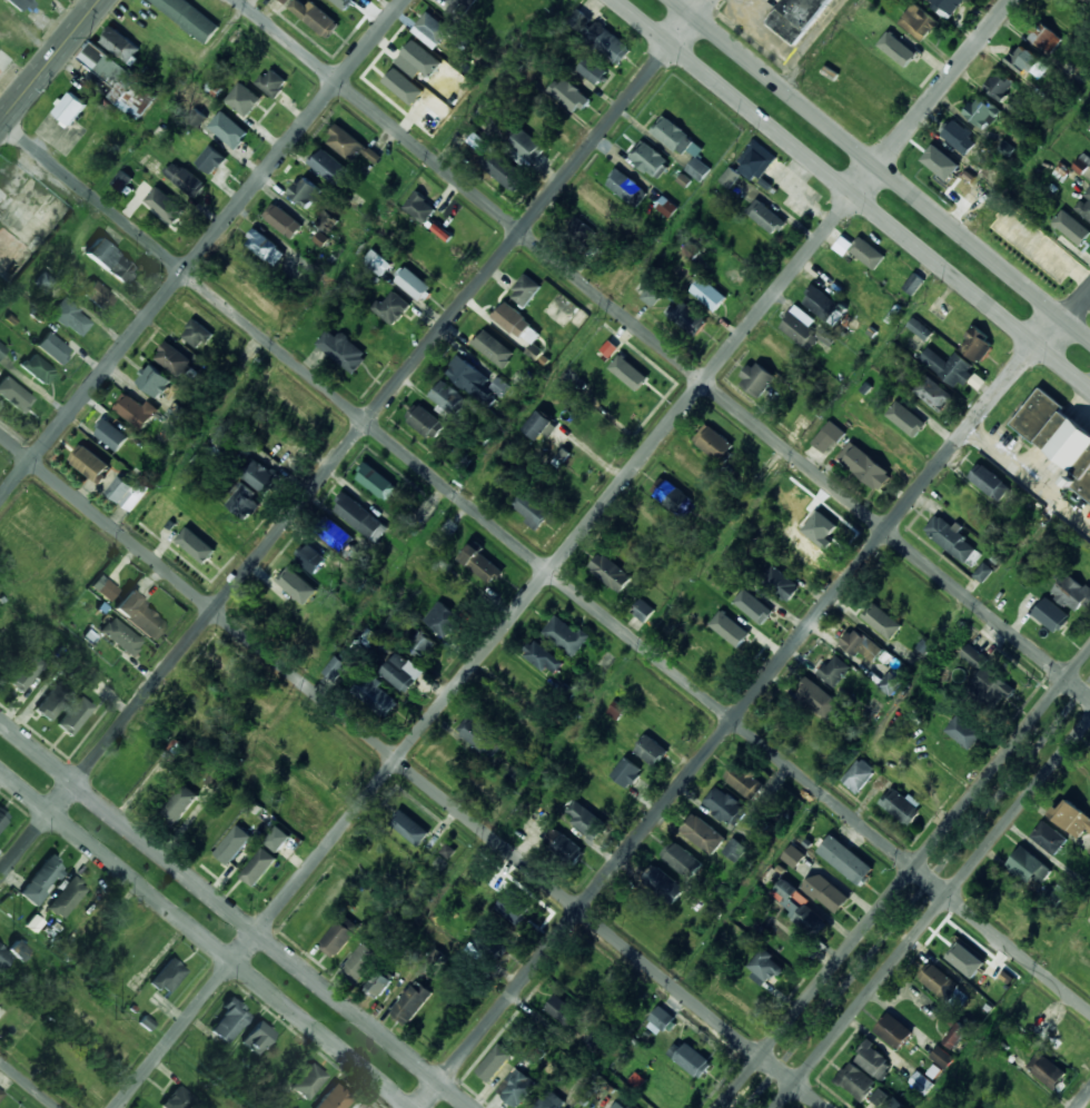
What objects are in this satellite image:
building: (1087, 0)
building: (285, 1)
building: (21, 4)
building: (462, 4)
building: (945, 4)
building: (346, 6)
building: (190, 17)
building: (797, 18)
building: (319, 19)
building: (579, 20)
building: (919, 21)
building: (433, 27)
building: (1044, 37)
building: (119, 43)
building: (607, 43)
building: (904, 55)
building: (420, 57)
building: (4, 61)
road: (50, 61)
building: (1027, 61)
building: (110, 71)
building: (594, 71)
building: (399, 79)
building: (272, 82)
building: (999, 86)
building: (569, 95)
building: (1089, 96)
building: (248, 106)
building: (69, 109)
building: (982, 112)
building: (196, 116)
building: (229, 129)
building: (673, 135)
building: (960, 138)
building: (480, 142)
building: (348, 144)
building: (524, 146)
building: (211, 159)
building: (647, 159)
building: (940, 162)
building: (1082, 162)
building: (327, 165)
building: (750, 165)
building: (697, 168)
building: (503, 169)
road: (879, 170)
building: (185, 179)
building: (121, 180)
building: (624, 186)
building: (305, 191)
road: (856, 191)
building: (666, 206)
building: (1084, 206)
building: (419, 207)
building: (165, 208)
building: (766, 217)
building: (283, 220)
building: (1072, 229)
building: (579, 233)
building: (843, 244)
building: (264, 246)
road: (201, 249)
building: (866, 253)
building: (108, 260)
building: (378, 261)
building: (305, 274)
building: (913, 283)
building: (413, 284)
building: (525, 290)
building: (647, 291)
building: (708, 294)
building: (98, 296)
building: (821, 303)
building: (393, 307)
building: (687, 317)
building: (70, 318)
building: (578, 318)
building: (513, 319)
building: (802, 328)
building: (919, 328)
building: (197, 335)
building: (978, 345)
building: (610, 347)
road: (663, 347)
building: (53, 348)
building: (494, 348)
building: (1, 349)
building: (341, 349)
building: (174, 358)
road: (872, 363)
building: (952, 368)
building: (37, 369)
building: (631, 377)
building: (470, 378)
building: (757, 378)
building: (153, 380)
building: (501, 386)
building: (933, 394)
building: (16, 395)
building: (448, 397)
building: (136, 412)
building: (916, 419)
building: (426, 422)
building: (539, 426)
building: (110, 434)
road: (353, 436)
building: (828, 436)
building: (1059, 436)
building: (714, 443)
building: (890, 447)
building: (281, 451)
building: (89, 462)
building: (869, 467)
building: (260, 476)
building: (376, 481)
building: (991, 483)
building: (120, 489)
building: (672, 496)
building: (244, 503)
building: (532, 508)
building: (971, 508)
building: (359, 516)
building: (815, 527)
building: (334, 533)
building: (951, 538)
building: (200, 551)
road: (563, 553)
building: (311, 558)
building: (802, 558)
building: (17, 560)
road: (545, 563)
building: (1084, 563)
building: (483, 564)
building: (983, 572)
building: (611, 573)
building: (780, 583)
building: (298, 585)
building: (106, 590)
building: (1008, 592)
building: (1071, 592)
building: (460, 594)
building: (909, 596)
building: (753, 606)
building: (643, 611)
building: (137, 615)
building: (1051, 615)
building: (443, 619)
building: (882, 623)
building: (566, 634)
building: (740, 635)
building: (119, 637)
building: (424, 645)
building: (861, 645)
building: (544, 657)
building: (973, 657)
building: (335, 667)
building: (834, 671)
building: (399, 672)
building: (23, 674)
building: (892, 683)
building: (991, 687)
building: (376, 695)
road: (751, 696)
building: (816, 698)
building: (52, 701)
building: (194, 703)
building: (499, 709)
building: (615, 710)
building: (73, 716)
building: (963, 732)
building: (543, 733)
building: (482, 738)
building: (651, 751)
building: (331, 761)
road: (413, 771)
building: (626, 772)
building: (859, 775)
building: (744, 780)
building: (924, 781)
building: (155, 789)
building: (606, 799)
building: (899, 803)
building: (725, 807)
building: (178, 811)
building: (1072, 818)
building: (2, 819)
building: (585, 820)
building: (406, 821)
building: (703, 833)
building: (277, 838)
building: (1048, 838)
building: (563, 847)
building: (734, 849)
building: (228, 851)
building: (1089, 851)
building: (793, 855)
building: (682, 859)
building: (846, 860)
building: (1029, 867)
building: (255, 871)
road: (904, 879)
building: (41, 881)
building: (665, 884)
road: (914, 891)
building: (826, 892)
building: (66, 898)
building: (513, 908)
road: (932, 912)
road: (236, 914)
building: (811, 921)
building: (339, 937)
building: (116, 938)
road: (206, 939)
road: (1067, 940)
building: (493, 947)
building: (19, 950)
building: (3, 957)
building: (363, 961)
building: (968, 966)
building: (766, 967)
building: (168, 977)
building: (939, 981)
building: (380, 983)
building: (413, 1002)
building: (562, 1010)
building: (661, 1018)
building: (146, 1022)
building: (228, 1022)
building: (1043, 1027)
building: (894, 1031)
building: (959, 1036)
building: (598, 1037)
building: (256, 1038)
building: (106, 1039)
building: (32, 1042)
building: (939, 1055)
building: (690, 1058)
building: (873, 1059)
building: (279, 1062)
building: (494, 1068)
building: (1047, 1070)
building: (73, 1075)
building: (856, 1081)
building: (307, 1082)
building: (920, 1082)
road: (29, 1084)
building: (672, 1086)
building: (517, 1088)
building: (1, 1094)
building: (879, 1096)
building: (334, 1098)
building: (179, 1099)
road: (1083, 1099)
building: (549, 1101)
building: (895, 1104)
building: (620, 1106)

